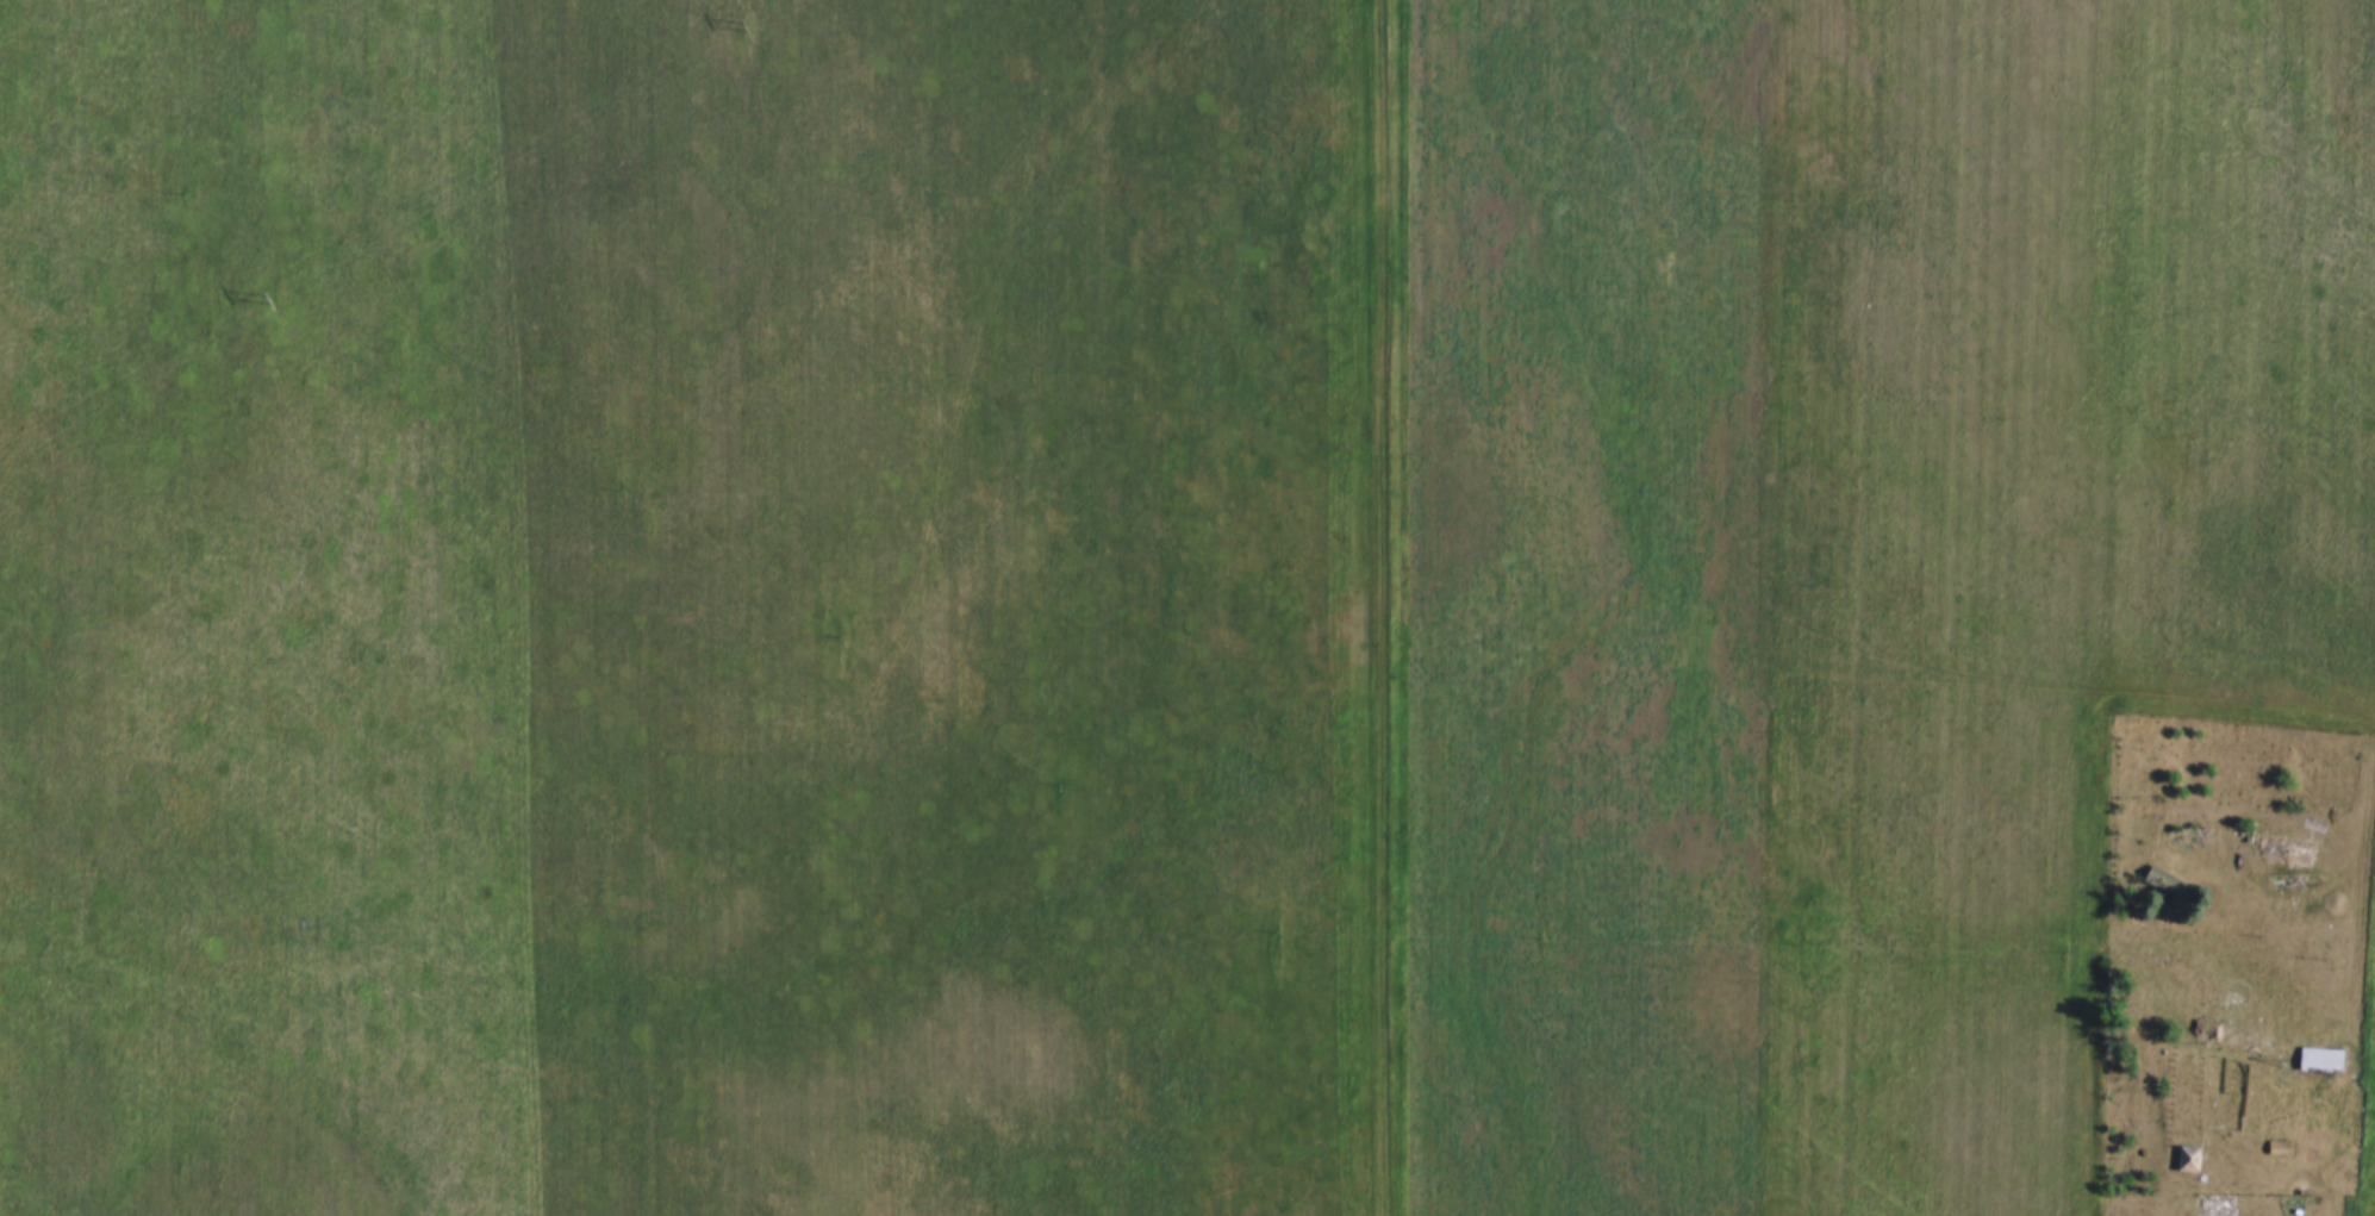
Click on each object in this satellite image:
road: (1376, 607)
building: (2167, 886)
building: (2321, 1062)
building: (2279, 1149)
building: (2188, 1161)

